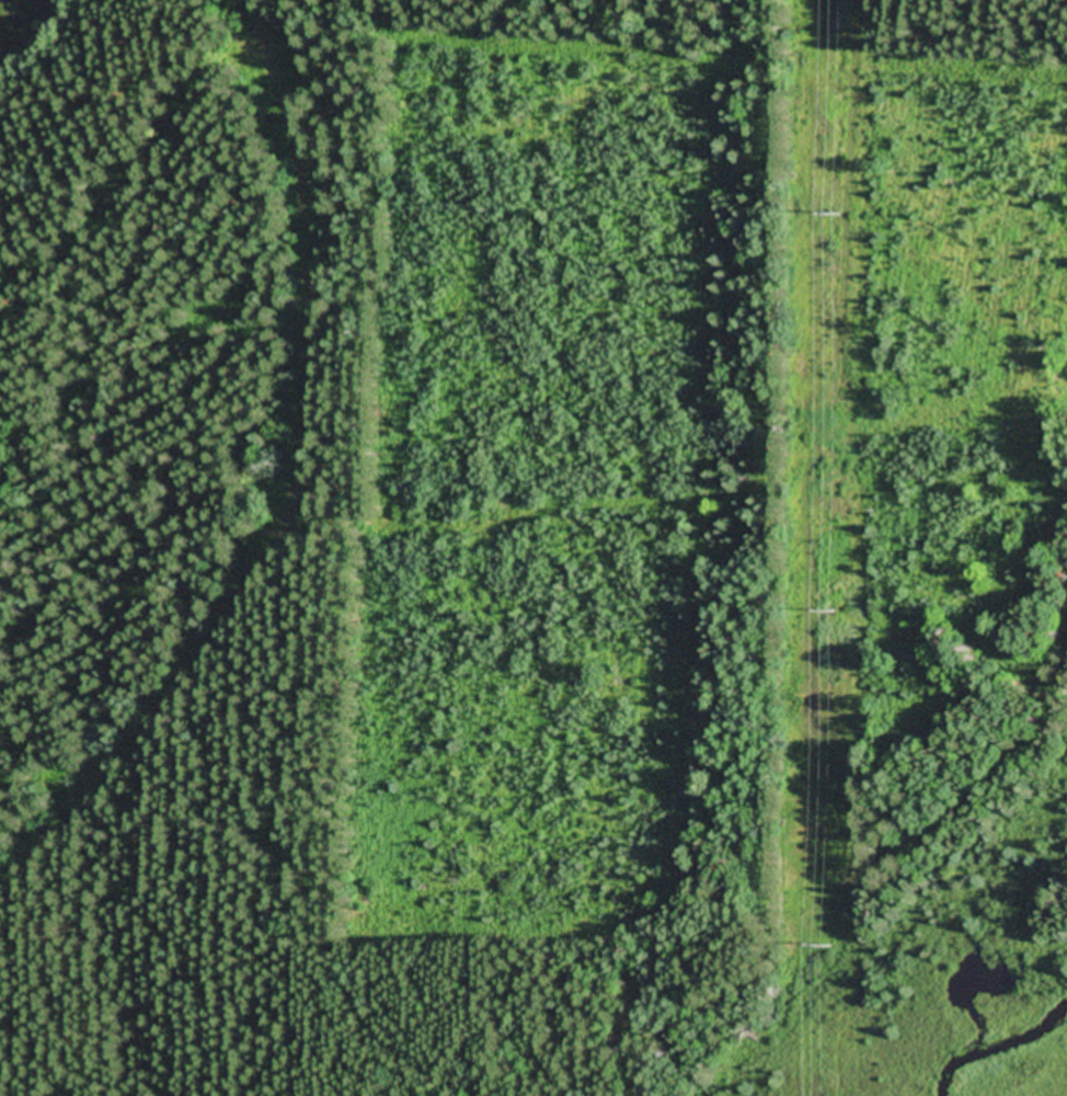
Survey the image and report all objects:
road: (326, 45)
power tower: (831, 216)
road: (269, 460)
road: (541, 514)
power tower: (829, 614)
road: (272, 906)
power tower: (828, 950)

